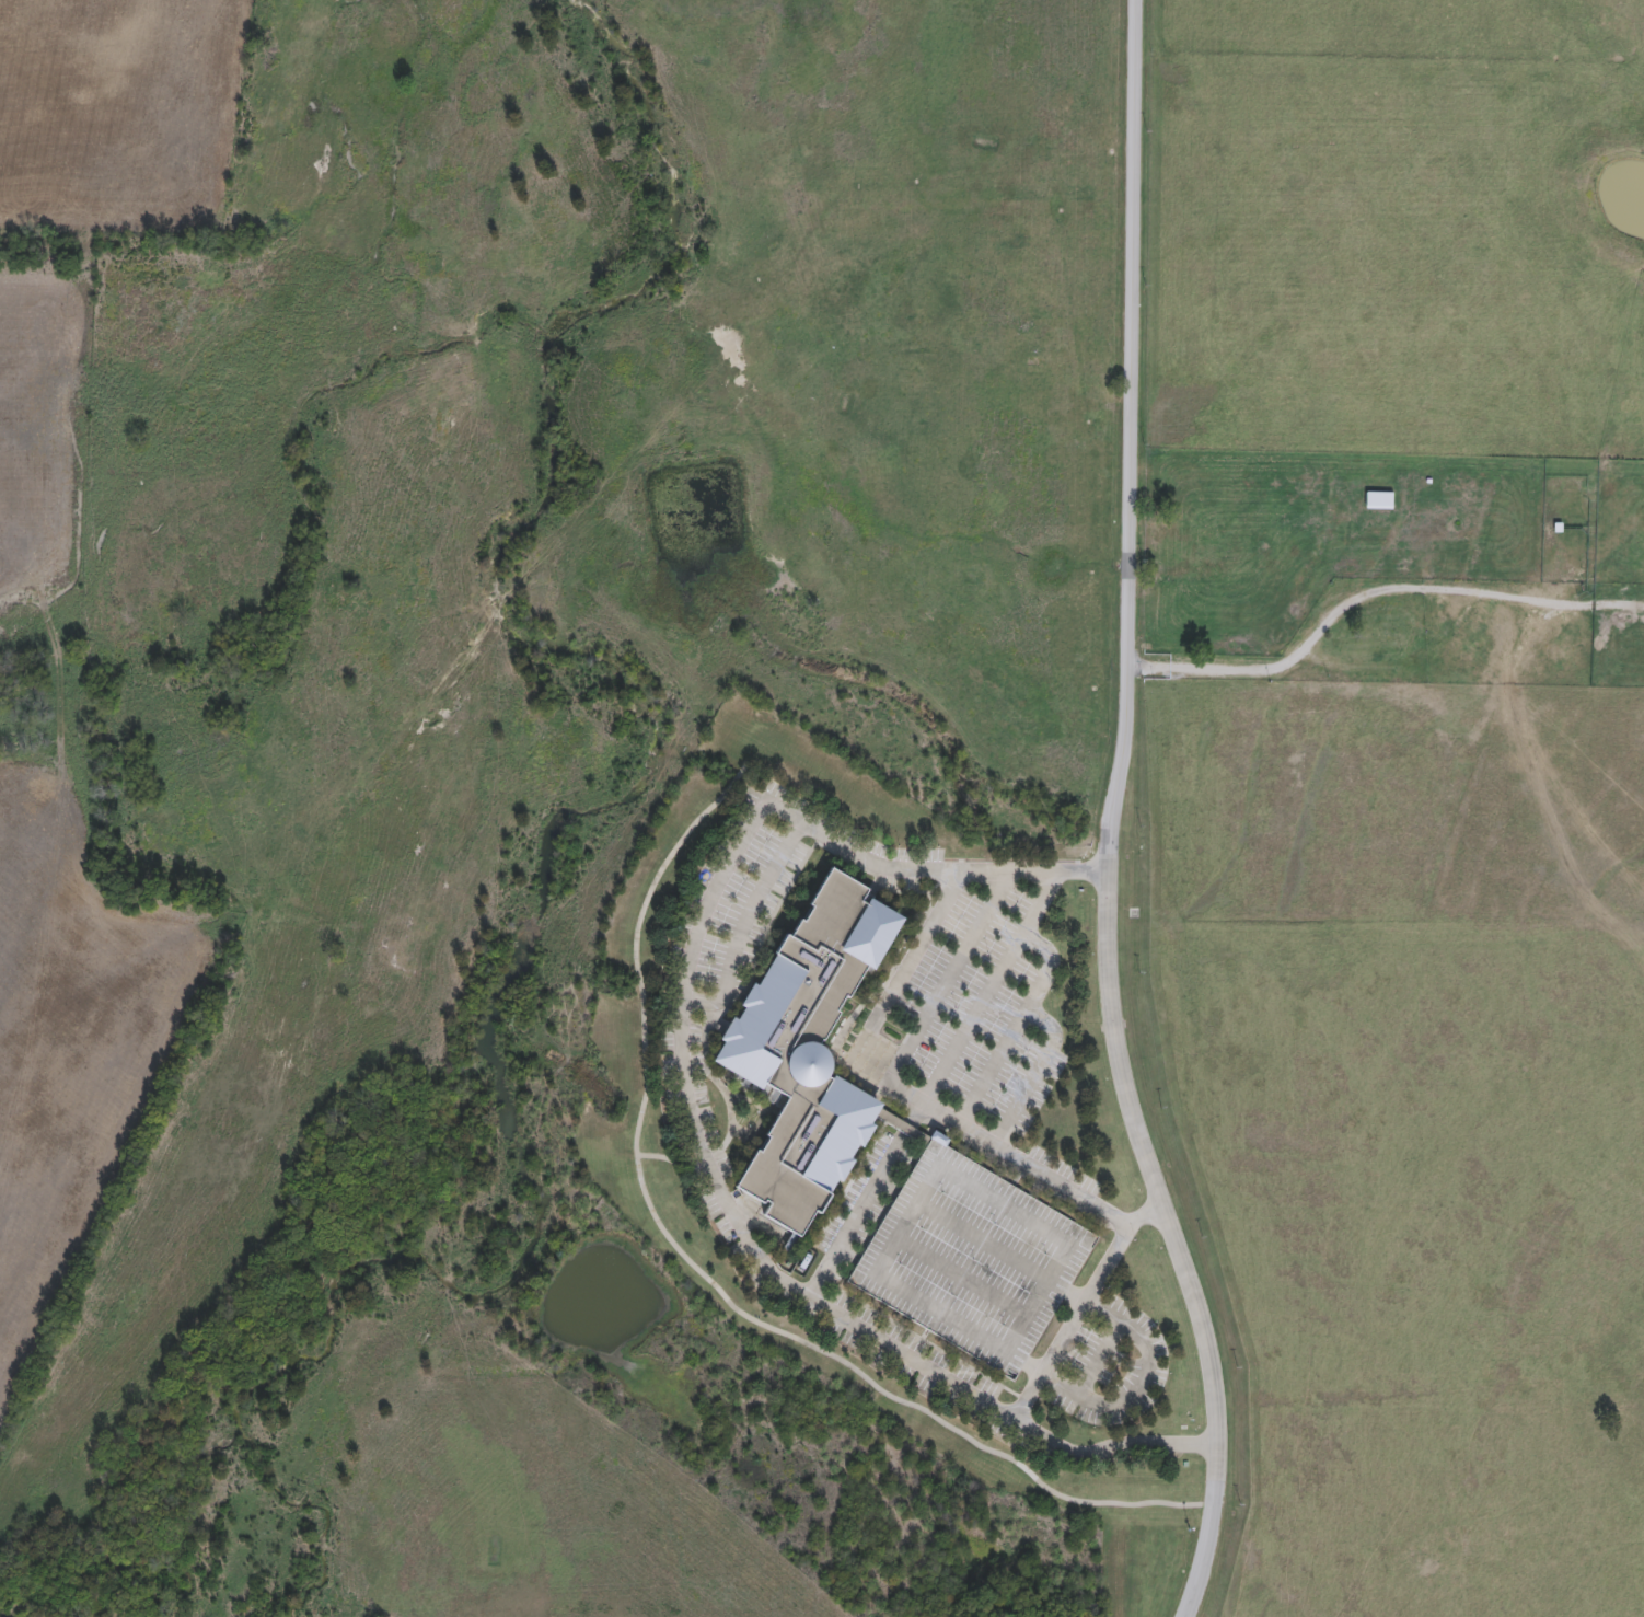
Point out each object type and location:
crop: (124, 118)
road: (1369, 586)
road: (1108, 818)
crop: (65, 845)
road: (743, 923)
parking lot: (749, 966)
road: (946, 977)
road: (986, 985)
parking lot: (986, 1018)
road: (1011, 1020)
road: (717, 1025)
building: (802, 1053)
road: (1033, 1067)
road: (715, 1083)
road: (907, 1095)
road: (691, 1108)
road: (763, 1114)
road: (660, 1157)
road: (696, 1157)
road: (865, 1201)
building: (971, 1257)
parking garage: (971, 1257)
road: (706, 1277)
road: (1074, 1289)
parking lot: (830, 1293)
road: (1066, 1313)
parking lot: (1109, 1365)
road: (1028, 1366)
road: (1136, 1377)

